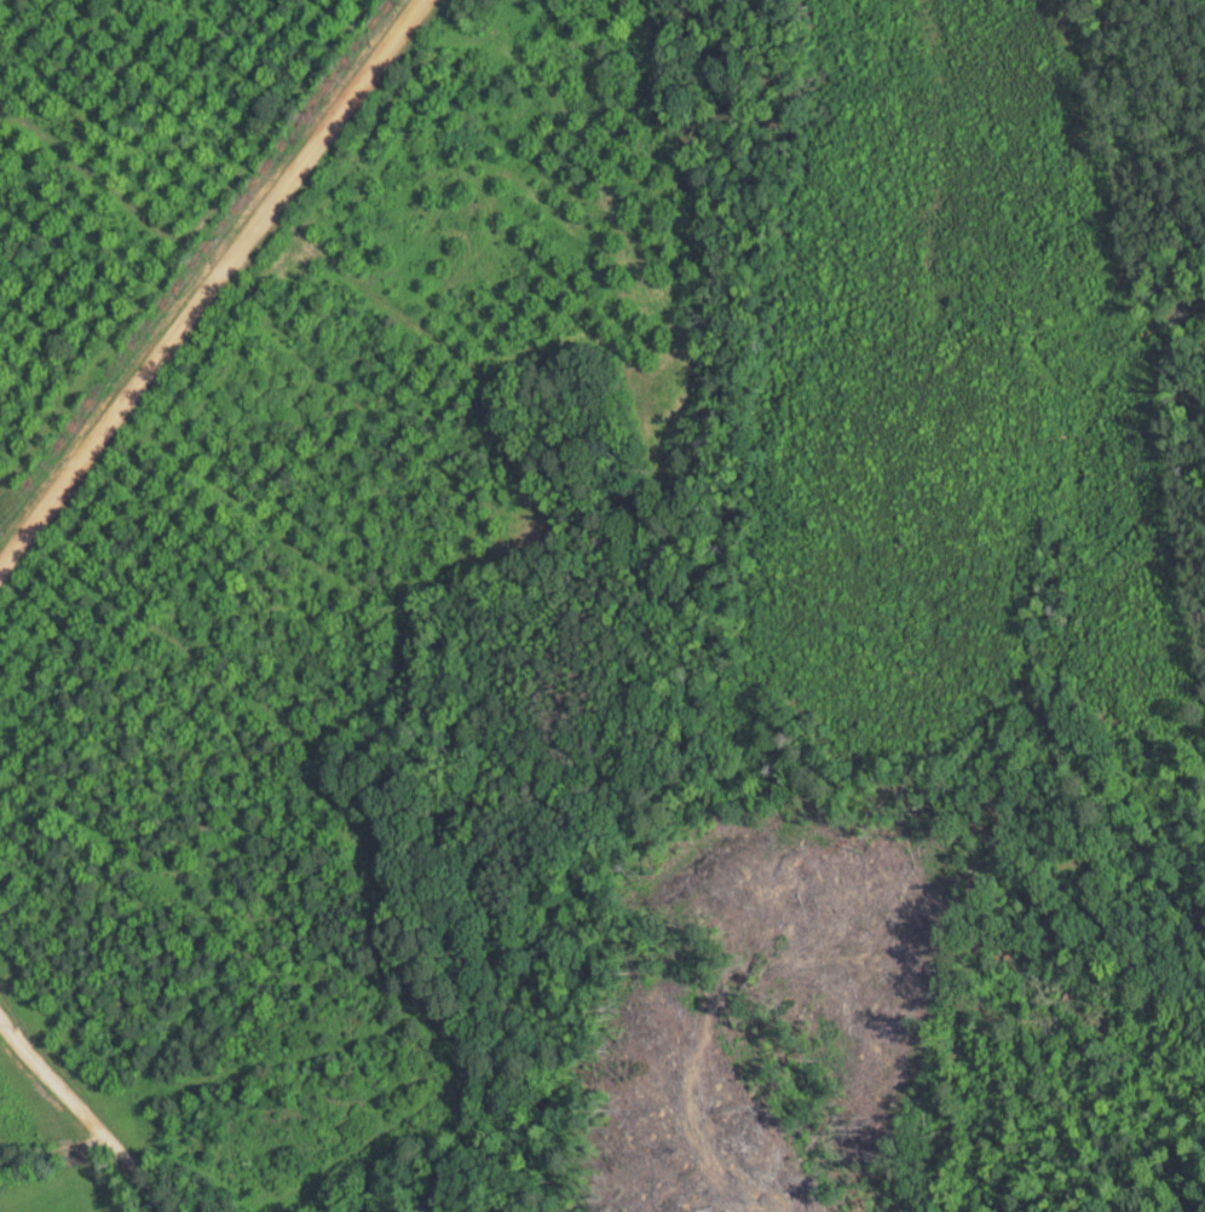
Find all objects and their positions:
road: (206, 327)
road: (91, 1095)

